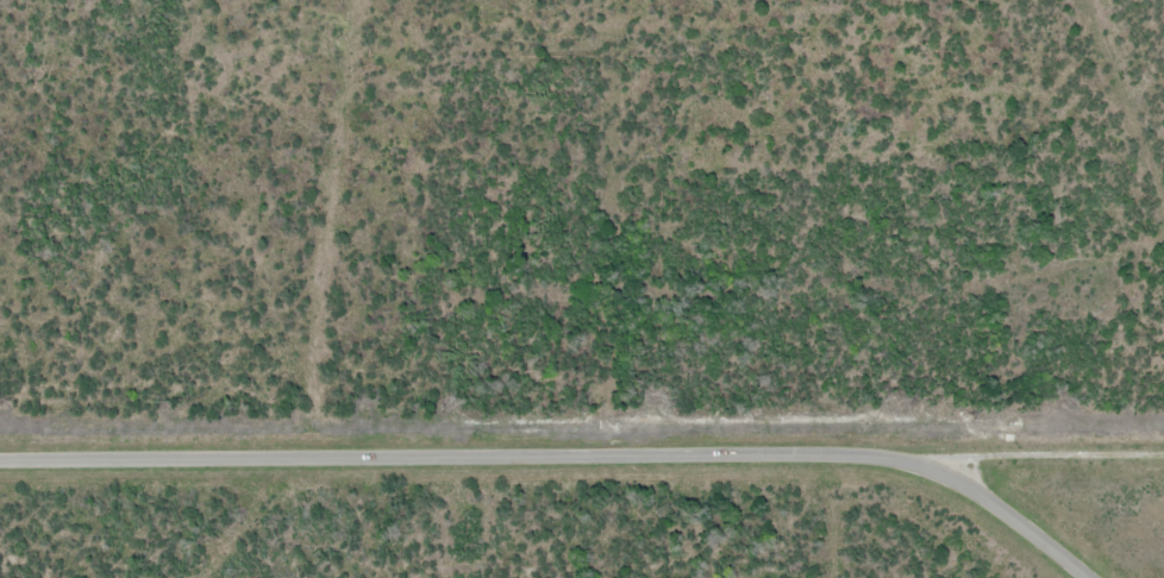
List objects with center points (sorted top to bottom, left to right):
road: (563, 457)

